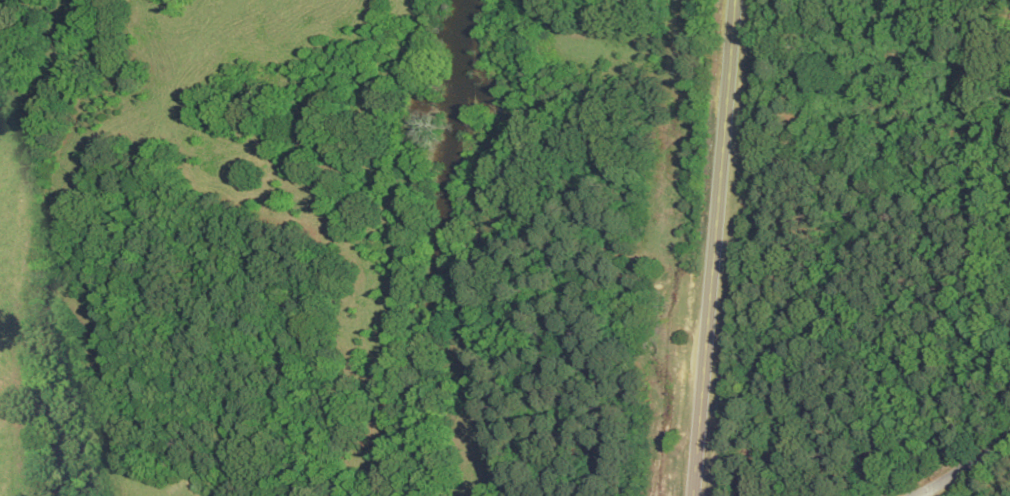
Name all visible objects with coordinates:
road: (701, 248)
road: (998, 487)

